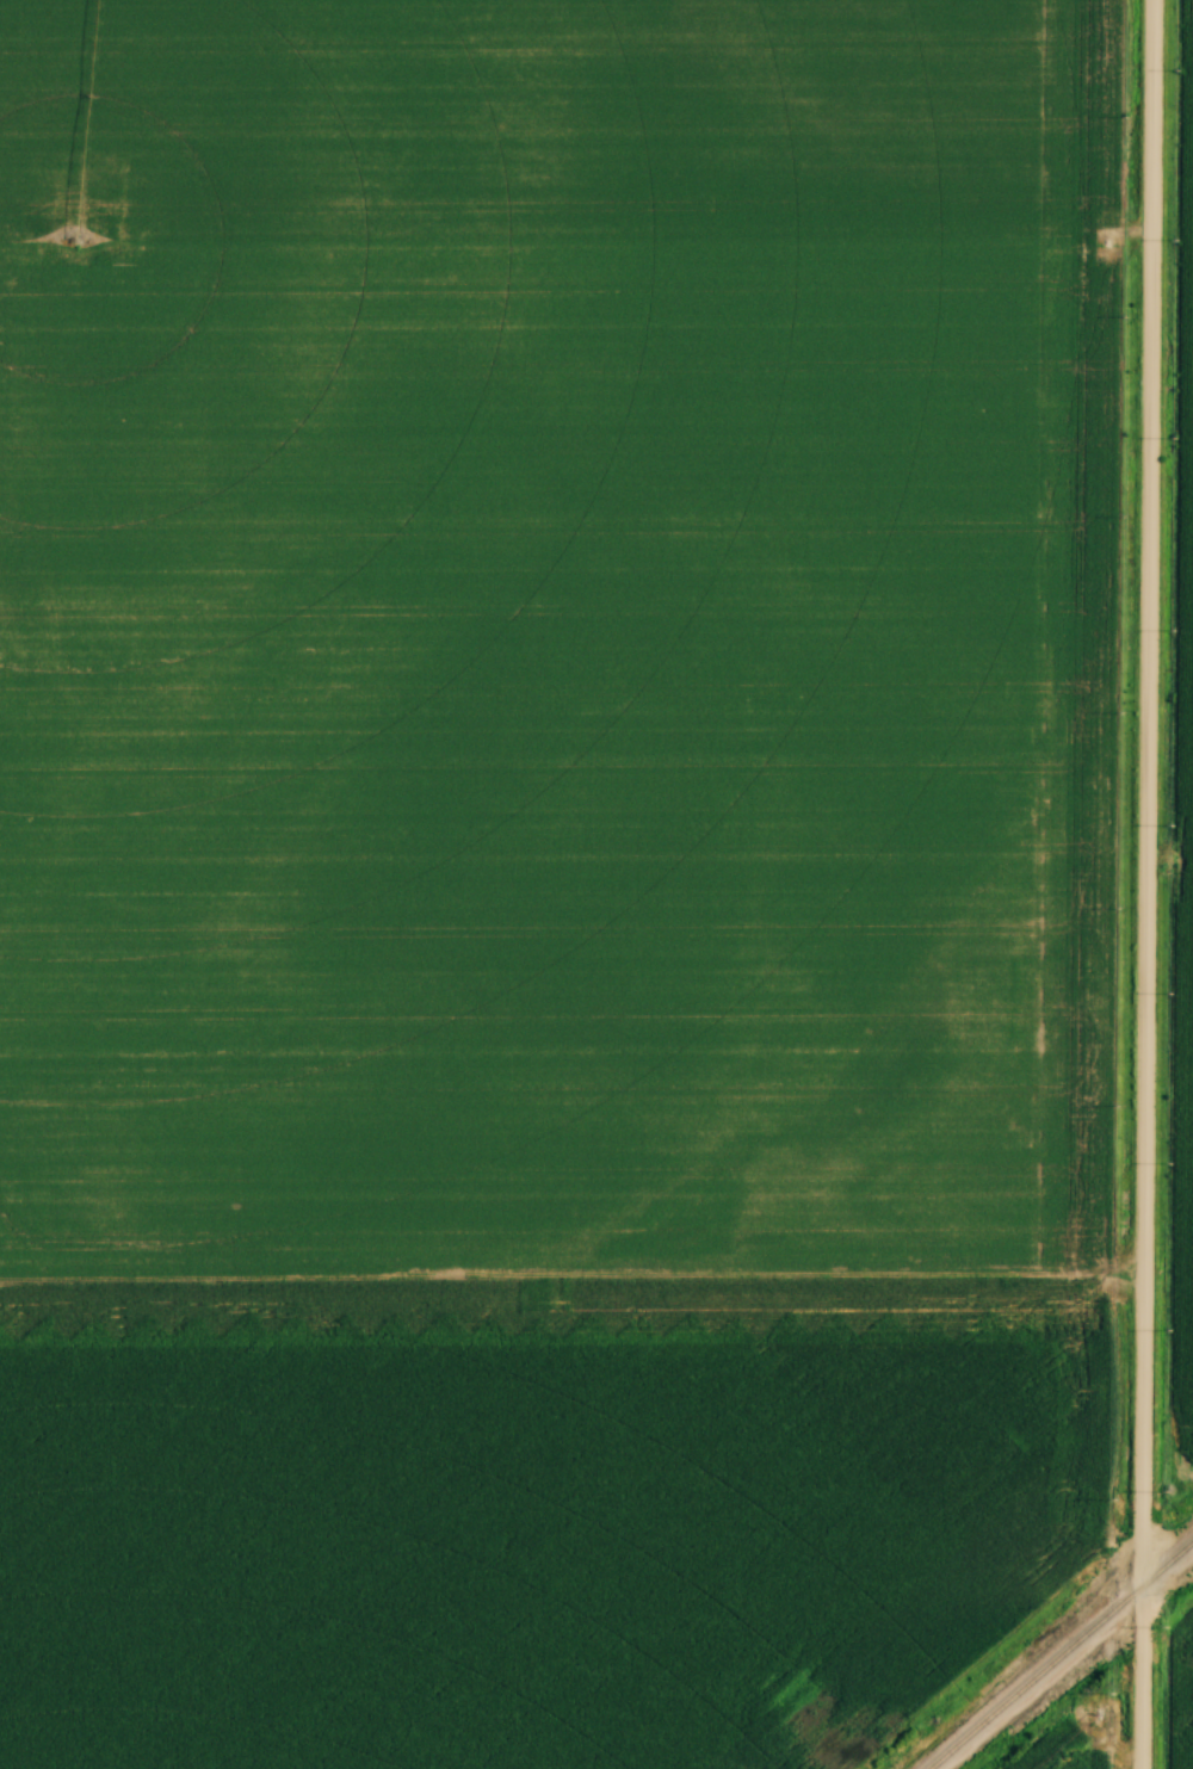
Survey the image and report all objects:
crop: (546, 631)
road: (1145, 884)
crop: (1188, 1239)
railway: (1061, 1654)
crop: (1181, 1682)
crop: (1077, 1732)

